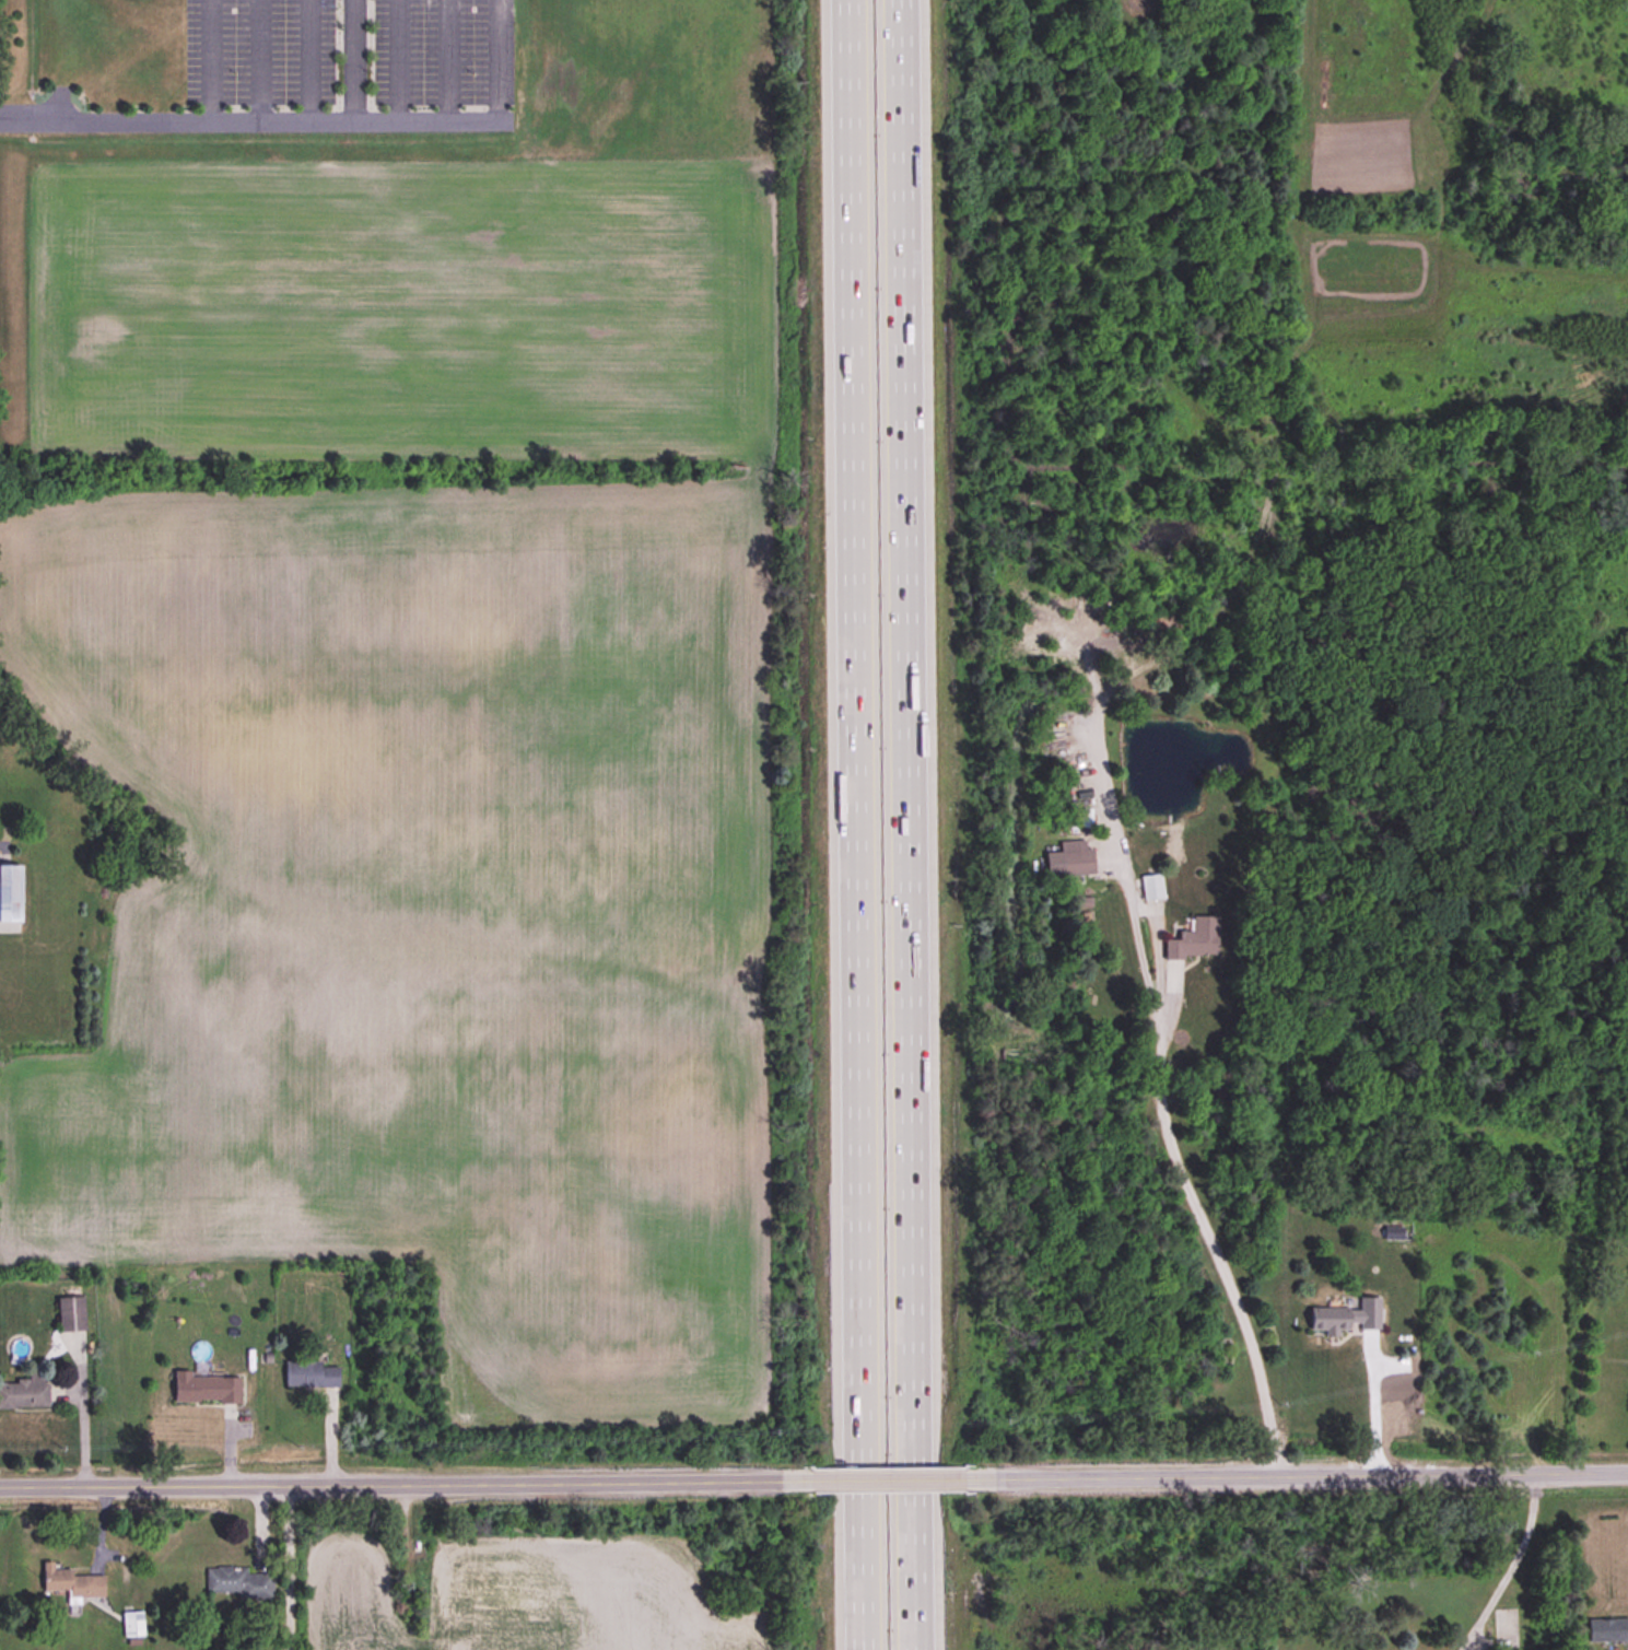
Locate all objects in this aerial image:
road: (206, 60)
road: (306, 119)
road: (852, 824)
road: (915, 824)
building: (1077, 864)
building: (1152, 888)
building: (10, 893)
building: (1195, 940)
road: (1208, 1238)
building: (70, 1315)
building: (1347, 1318)
building: (311, 1374)
building: (204, 1389)
building: (23, 1394)
road: (1371, 1406)
road: (1296, 1475)
road: (879, 1482)
road: (397, 1484)
road: (1508, 1555)
building: (238, 1583)
building: (71, 1584)
building: (132, 1625)
building: (1607, 1630)

